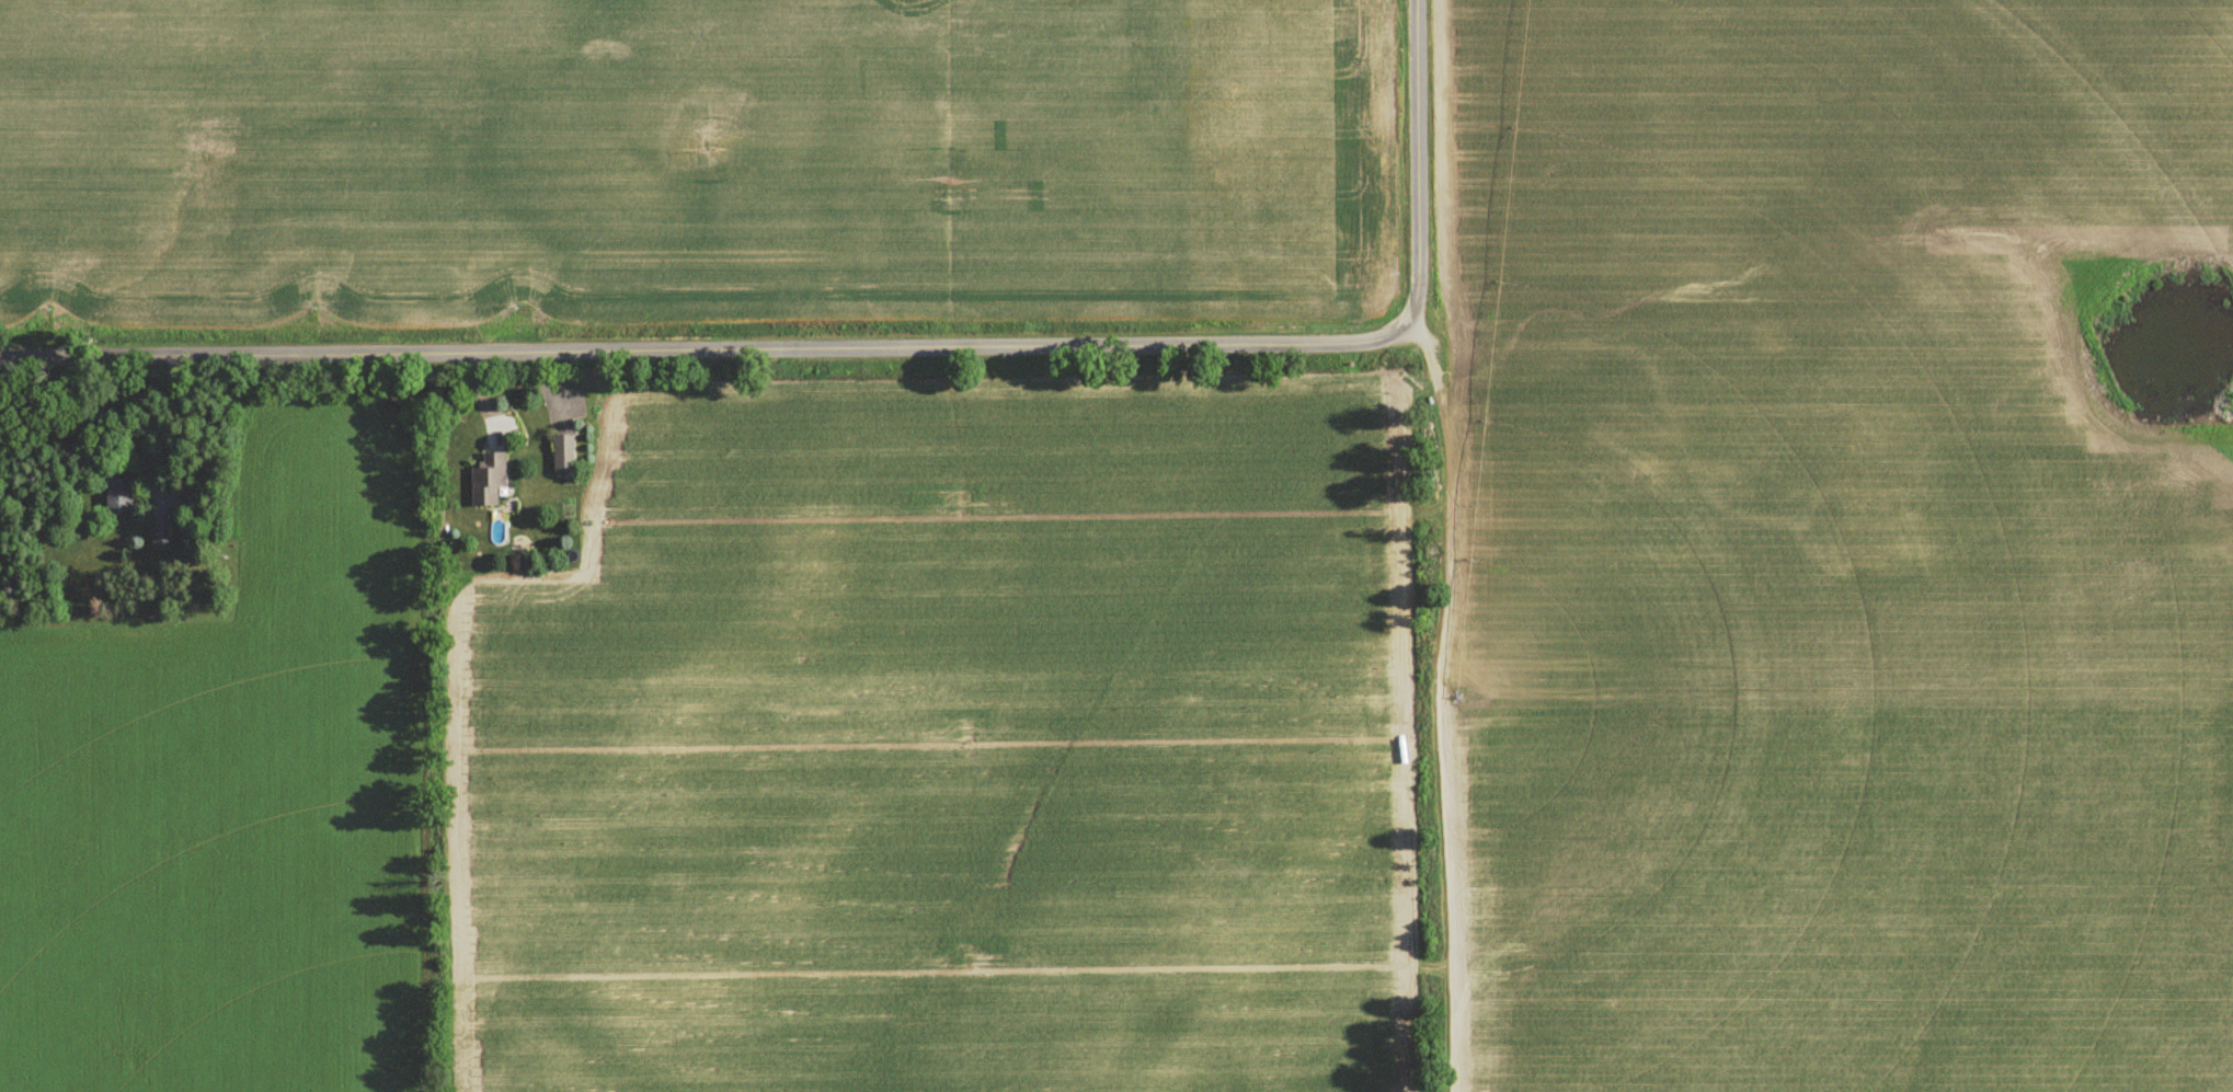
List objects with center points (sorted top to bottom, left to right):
road: (1416, 162)
road: (706, 347)
road: (1617, 367)
building: (562, 458)
building: (488, 483)
building: (119, 497)
building: (161, 538)
road: (1442, 714)

